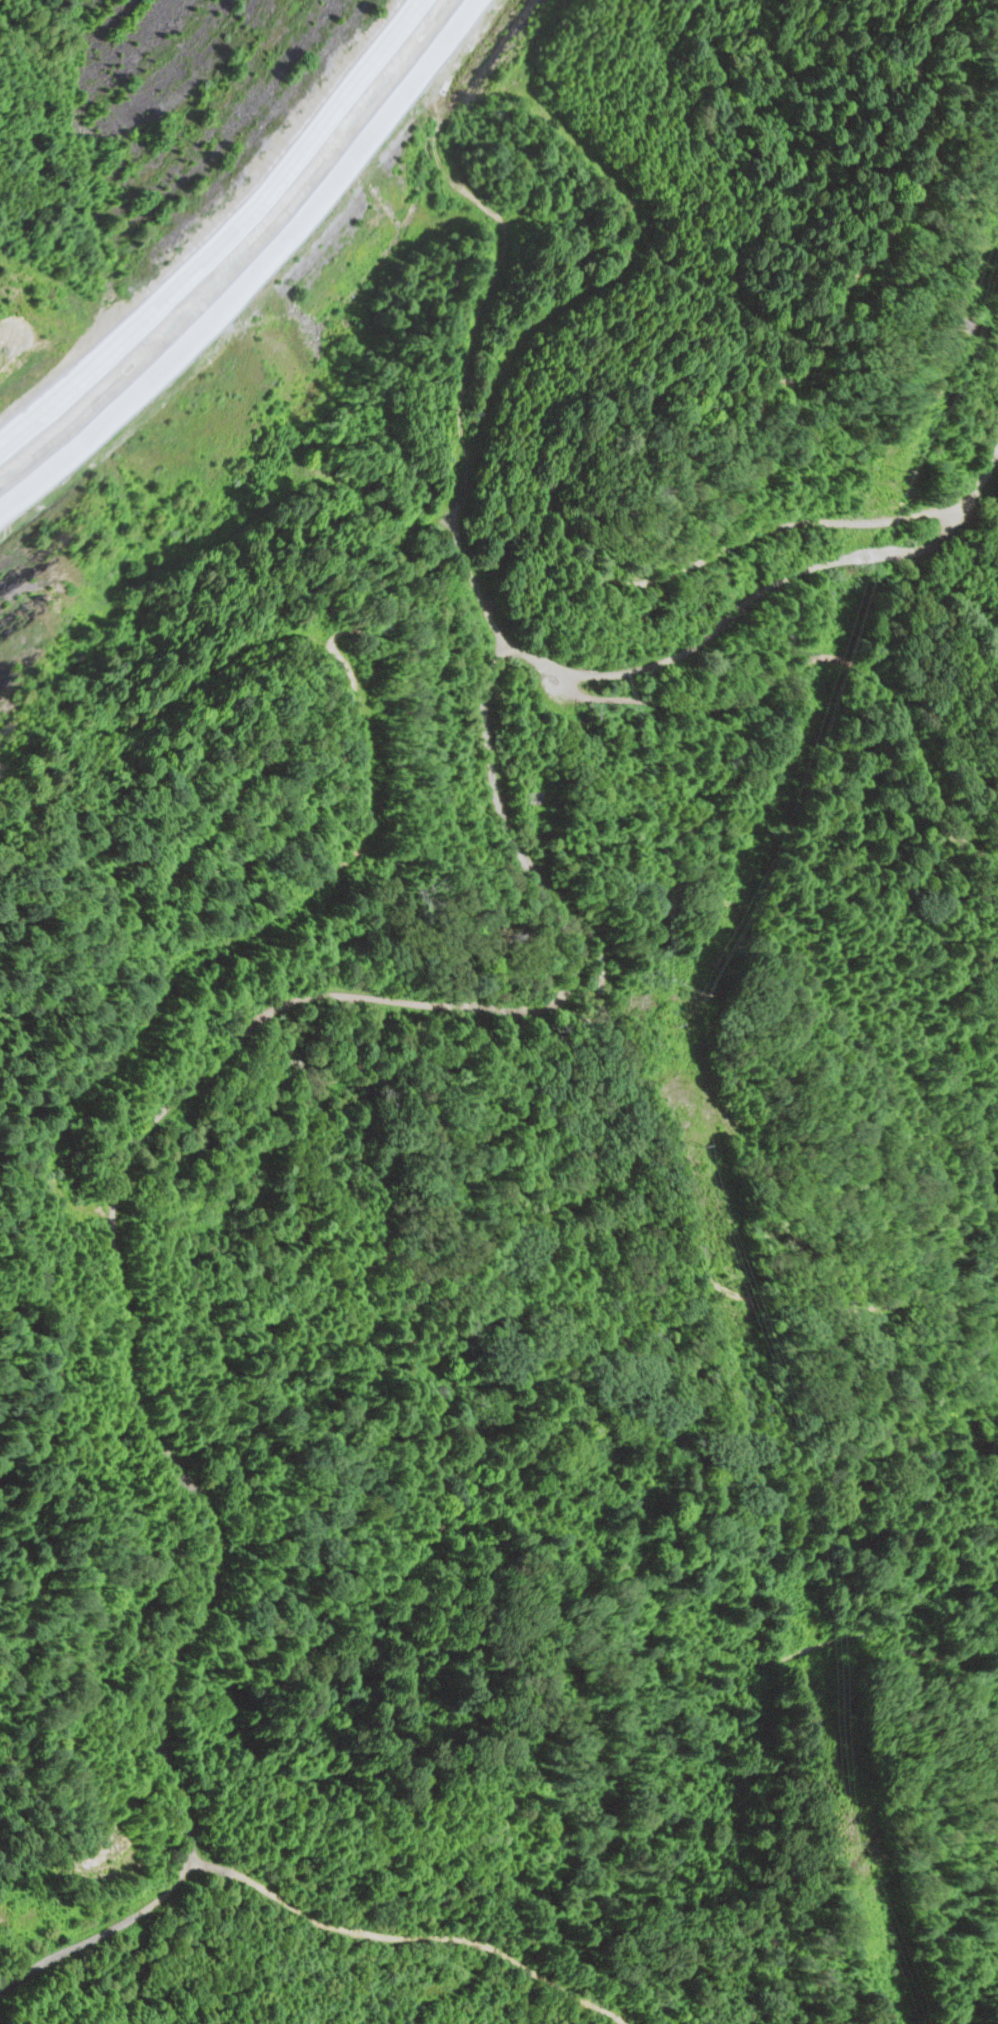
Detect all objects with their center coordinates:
road: (218, 237)
road: (243, 265)
quarry: (38, 600)

